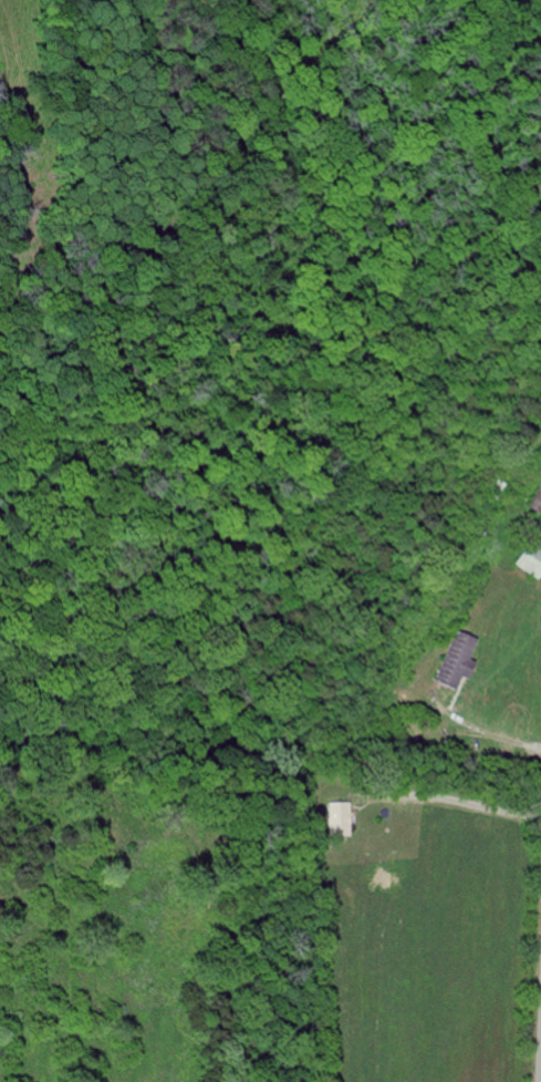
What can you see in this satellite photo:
building: (456, 661)
road: (488, 731)
road: (462, 801)
building: (341, 820)
road: (539, 1043)

